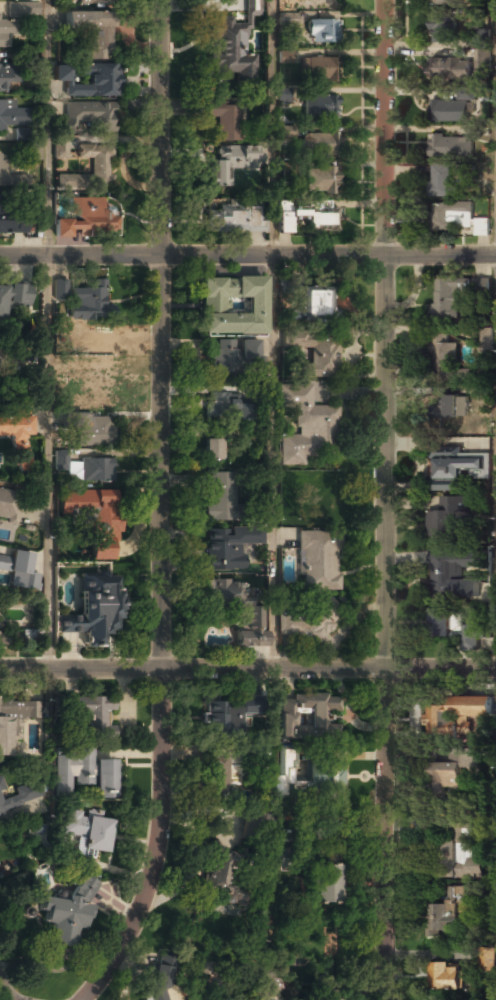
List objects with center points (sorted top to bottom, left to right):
building: (322, 1)
building: (92, 2)
building: (448, 2)
building: (251, 6)
building: (288, 19)
building: (19, 24)
building: (321, 31)
building: (444, 31)
building: (93, 33)
building: (225, 45)
building: (482, 49)
building: (285, 56)
building: (318, 68)
building: (450, 68)
building: (8, 75)
building: (90, 81)
building: (283, 95)
building: (319, 107)
building: (450, 111)
building: (12, 116)
building: (88, 118)
building: (223, 119)
road: (274, 127)
building: (474, 129)
building: (286, 132)
building: (317, 145)
building: (451, 146)
building: (60, 147)
building: (32, 151)
building: (231, 162)
building: (90, 170)
building: (2, 175)
building: (441, 180)
building: (321, 181)
building: (233, 217)
building: (309, 217)
building: (456, 217)
building: (84, 219)
building: (13, 224)
road: (383, 237)
road: (161, 239)
road: (247, 254)
building: (482, 284)
building: (60, 289)
building: (14, 297)
building: (445, 298)
building: (91, 303)
building: (314, 304)
building: (232, 306)
road: (50, 334)
building: (485, 334)
building: (99, 352)
building: (313, 353)
building: (235, 356)
building: (7, 357)
building: (443, 357)
building: (92, 398)
building: (226, 406)
building: (445, 406)
building: (307, 426)
building: (94, 432)
building: (17, 437)
building: (214, 448)
building: (61, 459)
road: (274, 462)
building: (460, 465)
building: (96, 470)
building: (447, 484)
building: (313, 493)
building: (0, 494)
building: (220, 496)
building: (10, 505)
building: (449, 516)
building: (93, 519)
building: (229, 546)
building: (318, 560)
building: (18, 569)
building: (443, 570)
building: (483, 590)
building: (241, 608)
building: (93, 609)
building: (454, 627)
building: (303, 629)
building: (26, 635)
building: (3, 637)
road: (247, 669)
building: (453, 710)
building: (303, 714)
building: (227, 715)
building: (93, 716)
building: (14, 724)
road: (384, 736)
road: (160, 749)
building: (72, 770)
building: (451, 770)
building: (216, 774)
building: (322, 775)
building: (104, 780)
building: (1, 784)
building: (280, 784)
building: (22, 795)
building: (249, 821)
building: (90, 832)
building: (458, 851)
building: (292, 859)
building: (220, 872)
building: (325, 883)
building: (448, 911)
building: (67, 913)
building: (487, 959)
building: (446, 975)
building: (266, 976)
building: (161, 979)
road: (5, 988)
building: (327, 995)

